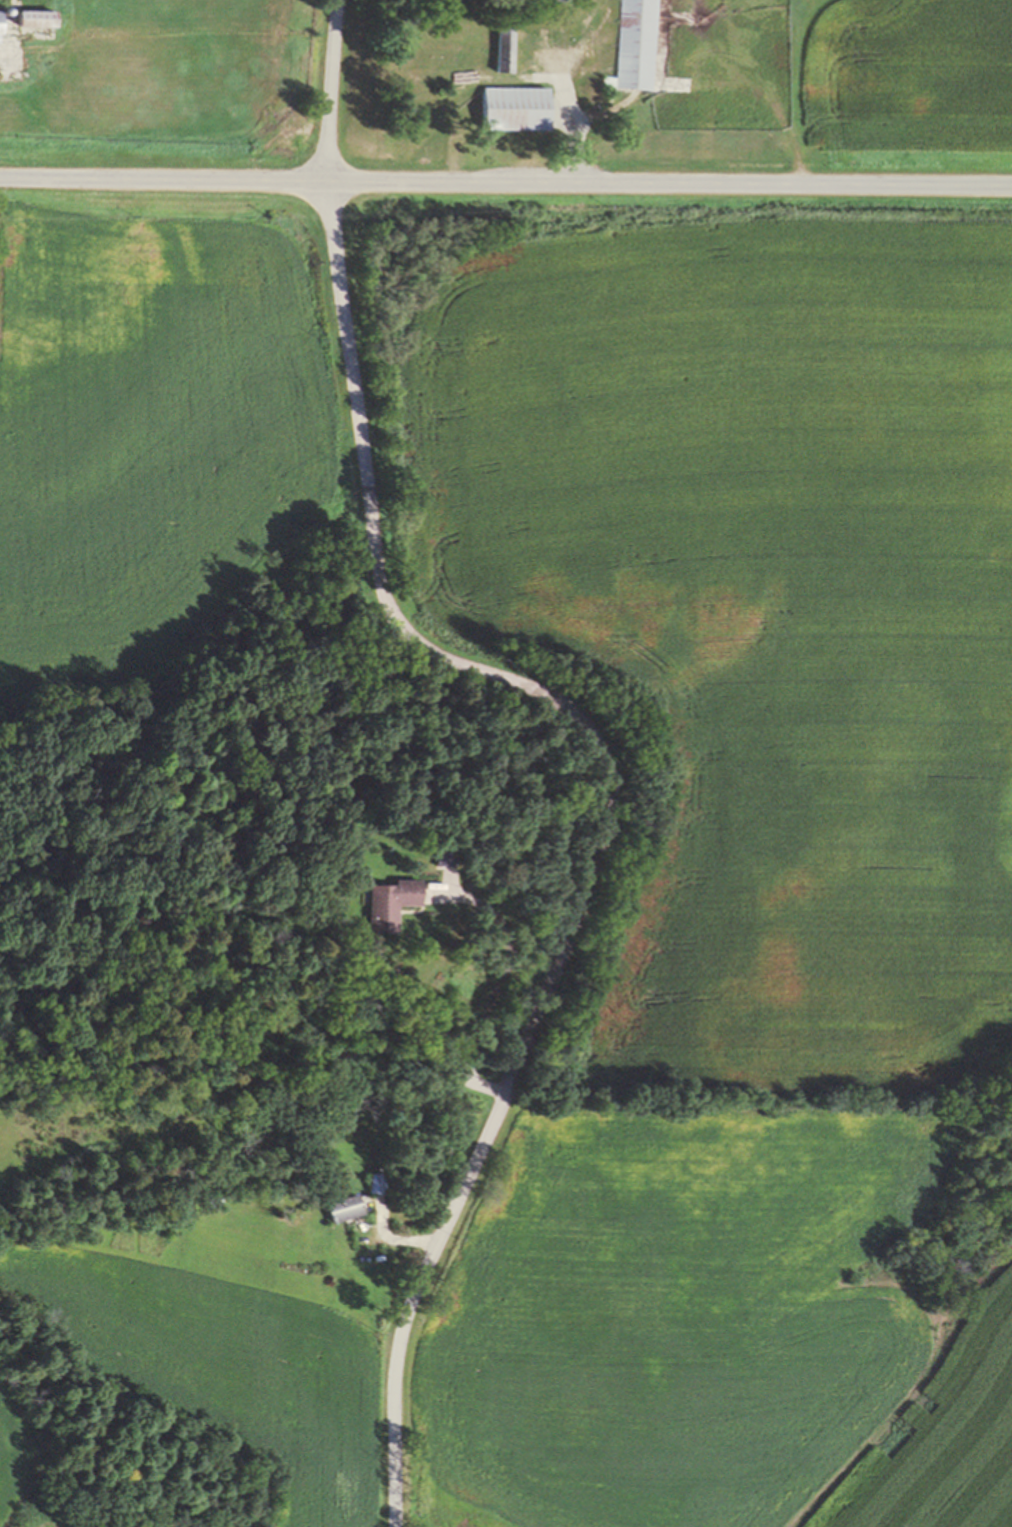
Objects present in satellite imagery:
building: (540, 0)
building: (2, 10)
building: (34, 17)
building: (0, 38)
building: (631, 44)
building: (501, 47)
building: (432, 76)
building: (677, 84)
building: (513, 107)
road: (505, 182)
road: (583, 727)
building: (442, 856)
building: (390, 902)
road: (488, 990)
building: (376, 1181)
building: (213, 1199)
building: (344, 1207)

